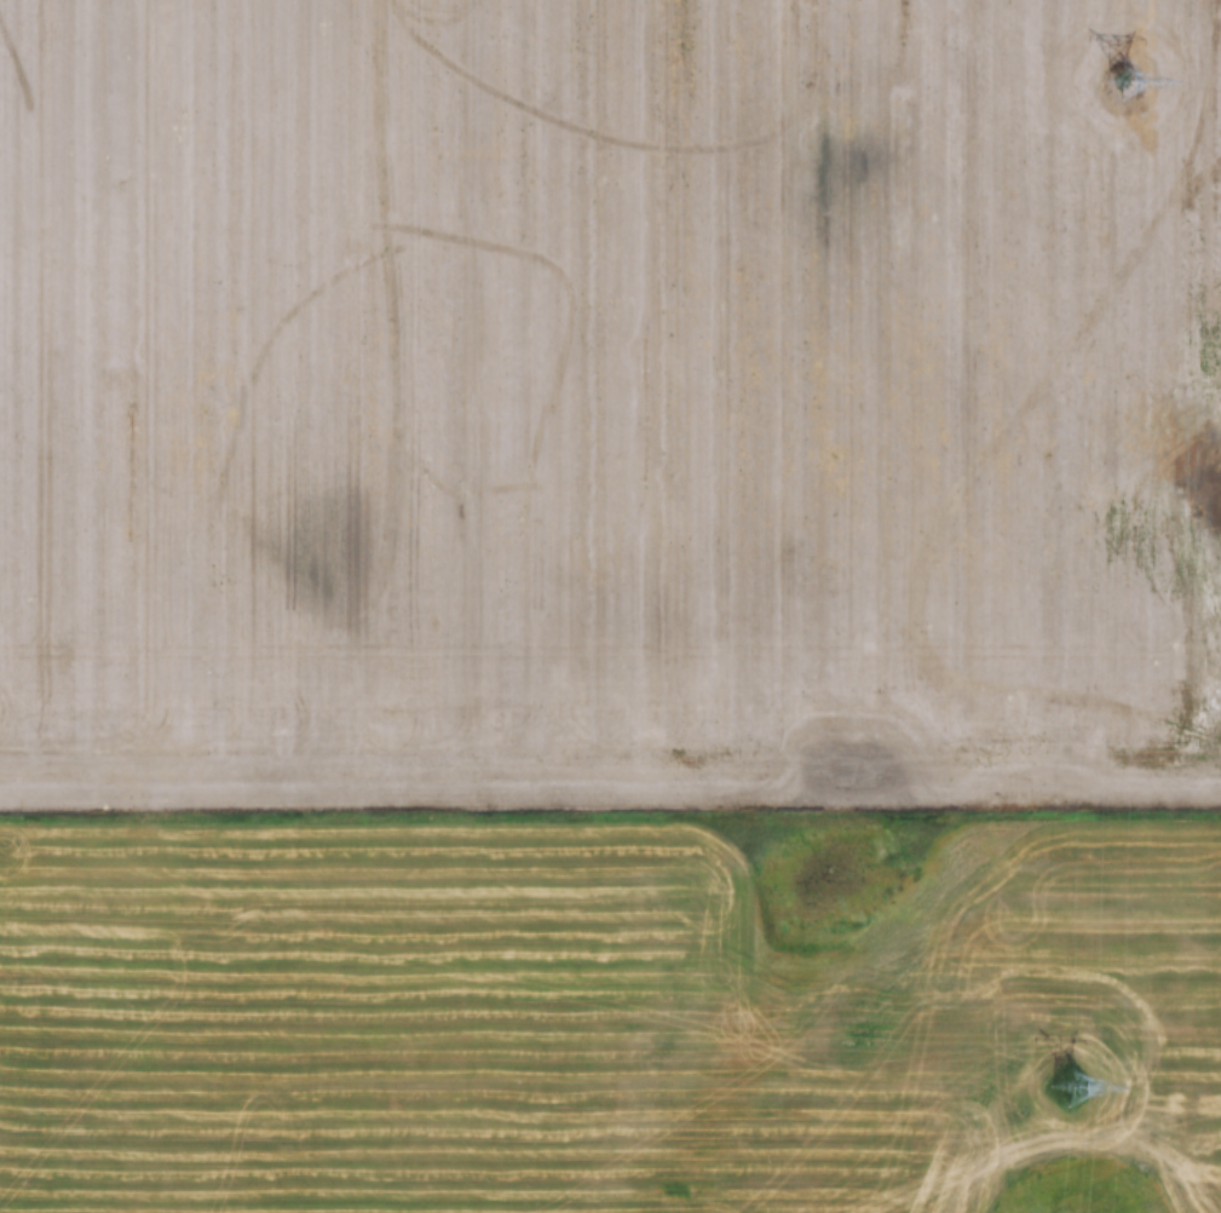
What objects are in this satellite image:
power tower: (1122, 80)
power tower: (1076, 1088)

